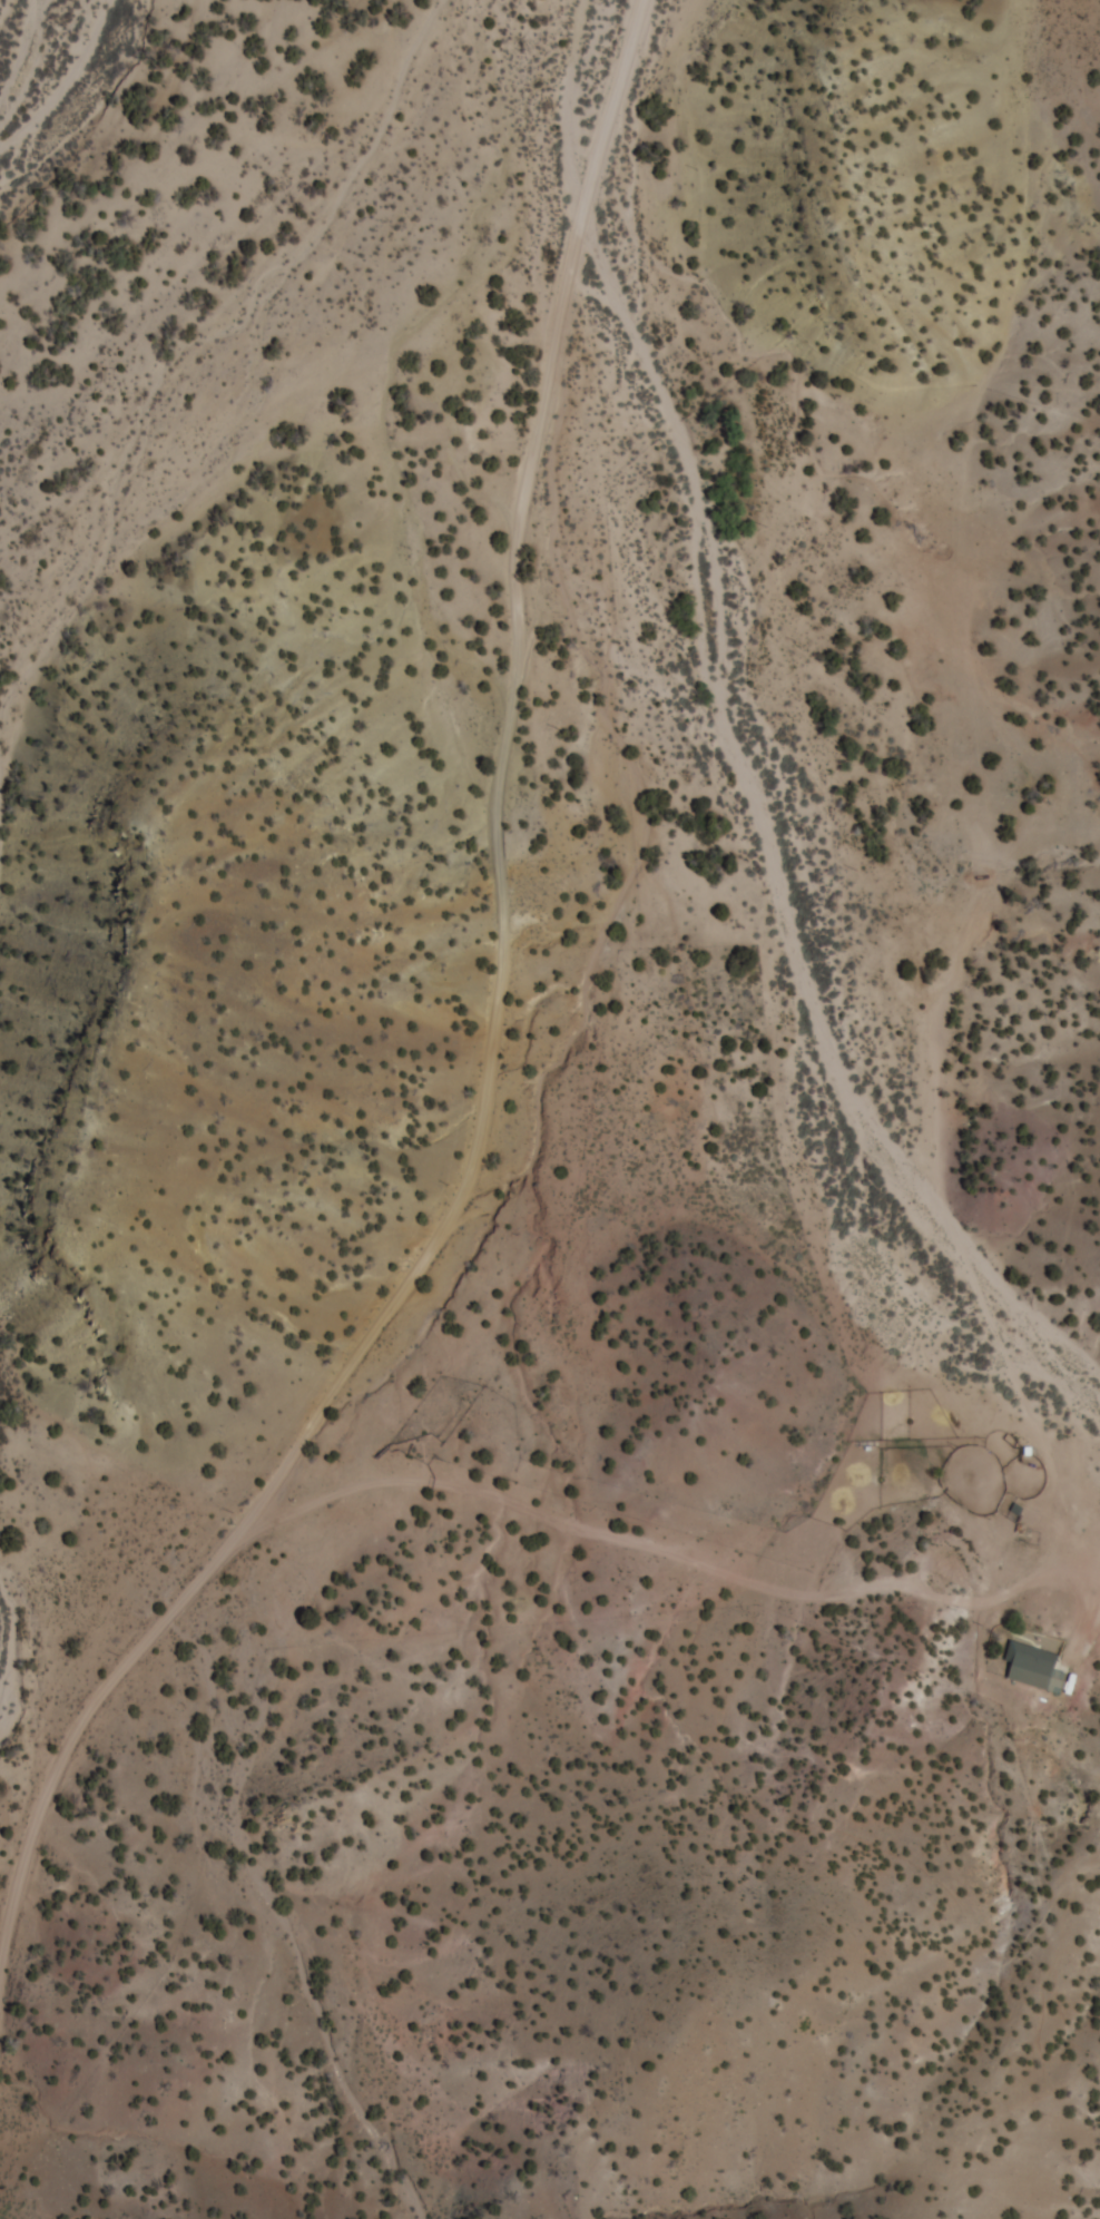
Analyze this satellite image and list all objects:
river: (313, 291)
road: (497, 1061)
road: (657, 1536)
building: (1042, 1661)

